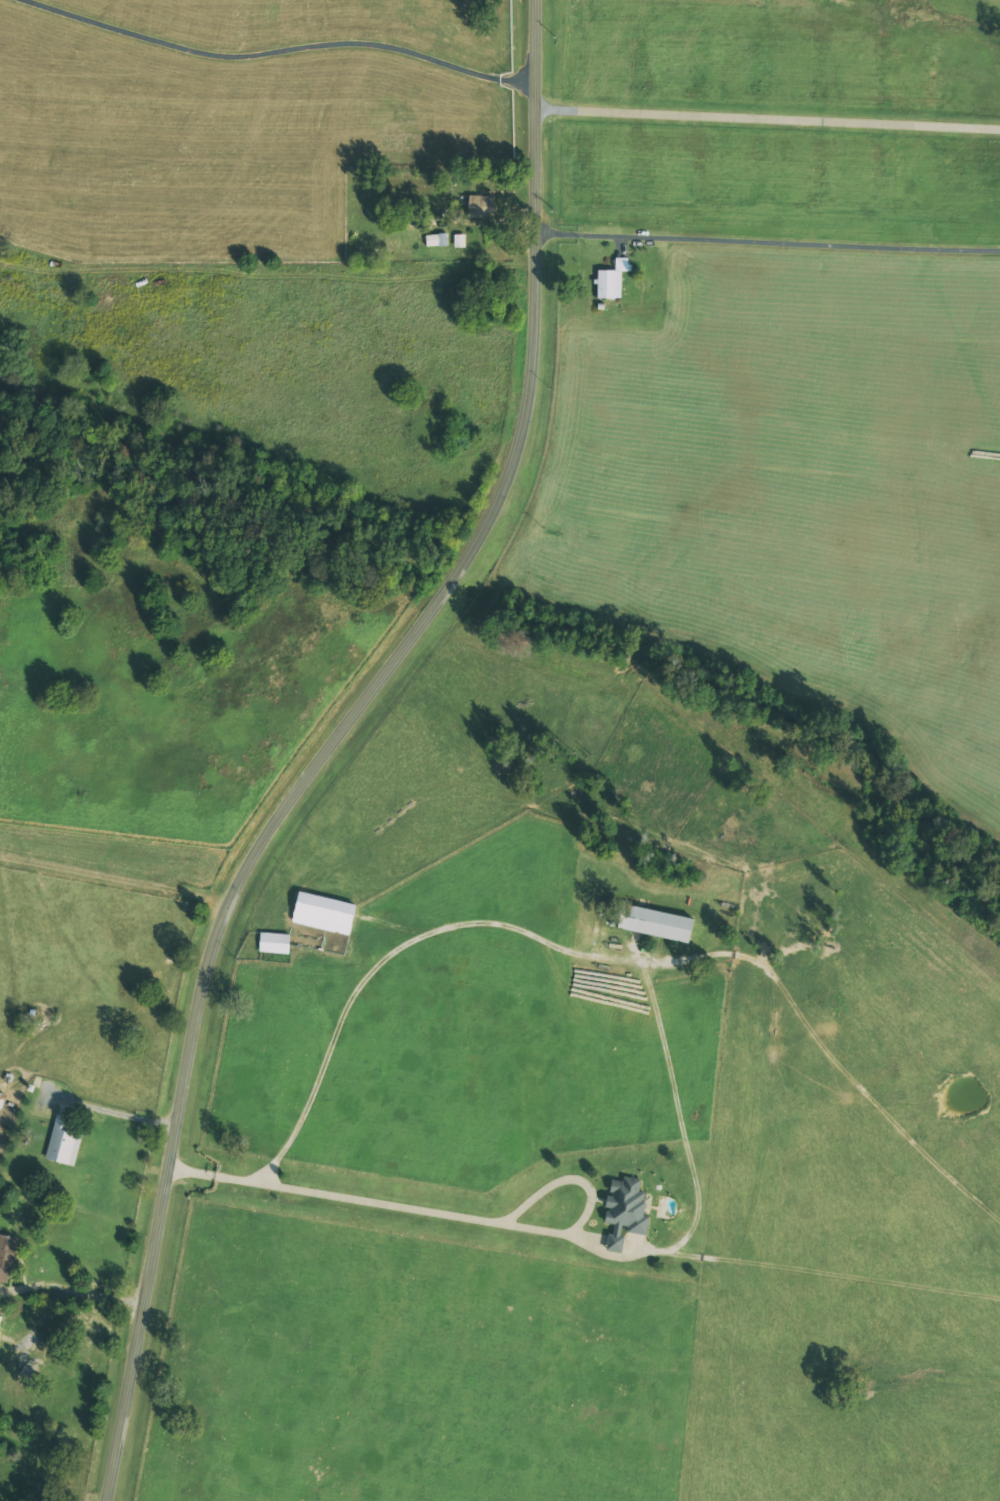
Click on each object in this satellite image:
building: (480, 207)
building: (437, 240)
building: (460, 241)
building: (612, 280)
road: (341, 744)
building: (323, 912)
building: (655, 922)
building: (274, 942)
building: (2, 1100)
building: (64, 1142)
building: (625, 1210)
building: (7, 1256)
building: (0, 1319)

